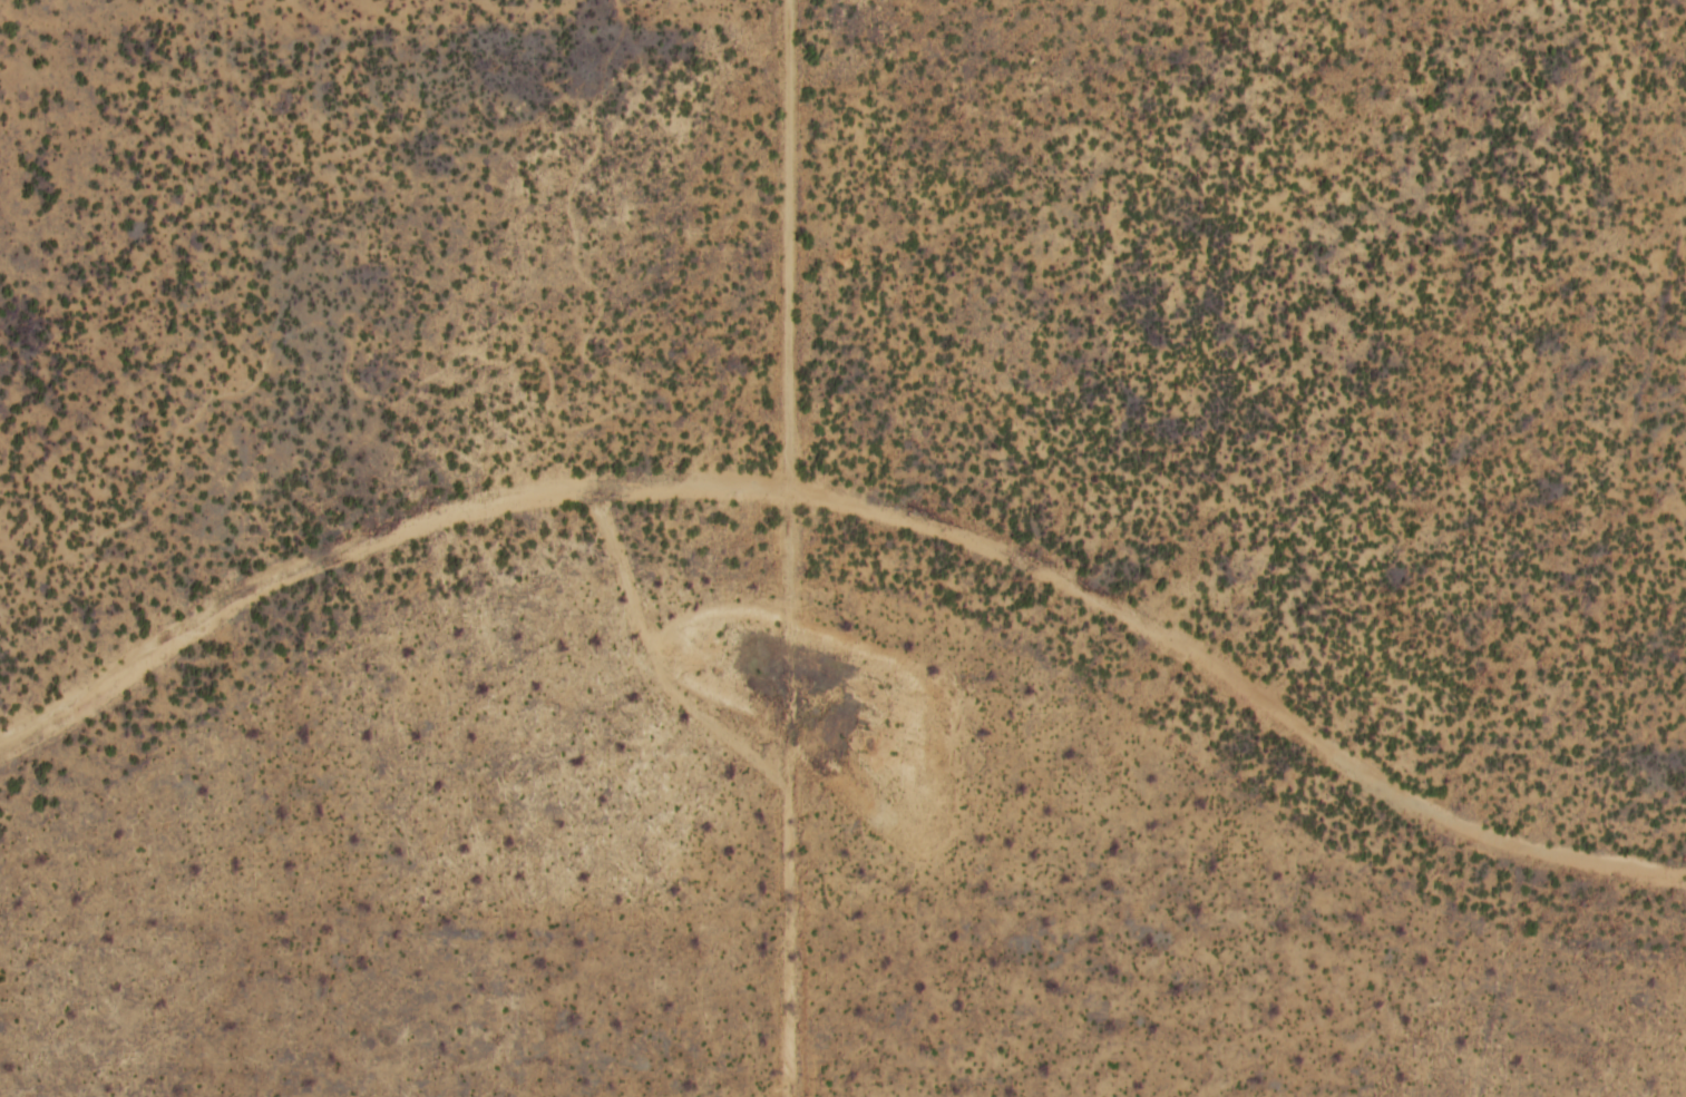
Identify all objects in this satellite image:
road: (786, 548)

